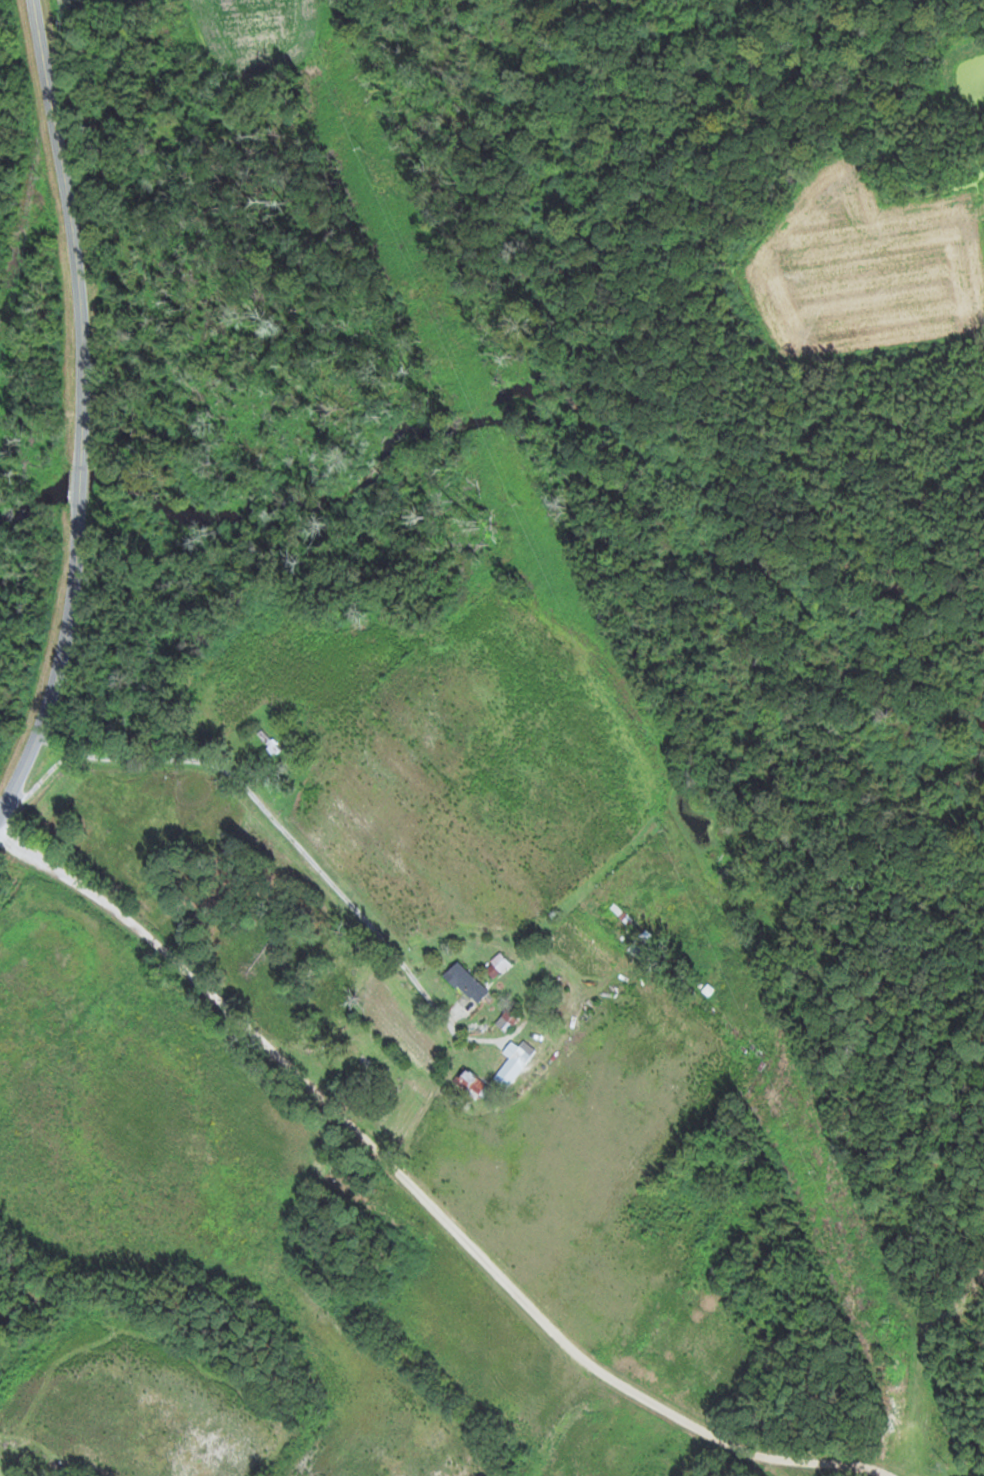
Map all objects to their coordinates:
road: (77, 233)
road: (80, 488)
road: (63, 668)
building: (268, 742)
road: (269, 822)
building: (500, 962)
building: (466, 982)
building: (507, 1019)
building: (513, 1061)
road: (424, 1195)
road: (41, 1447)

